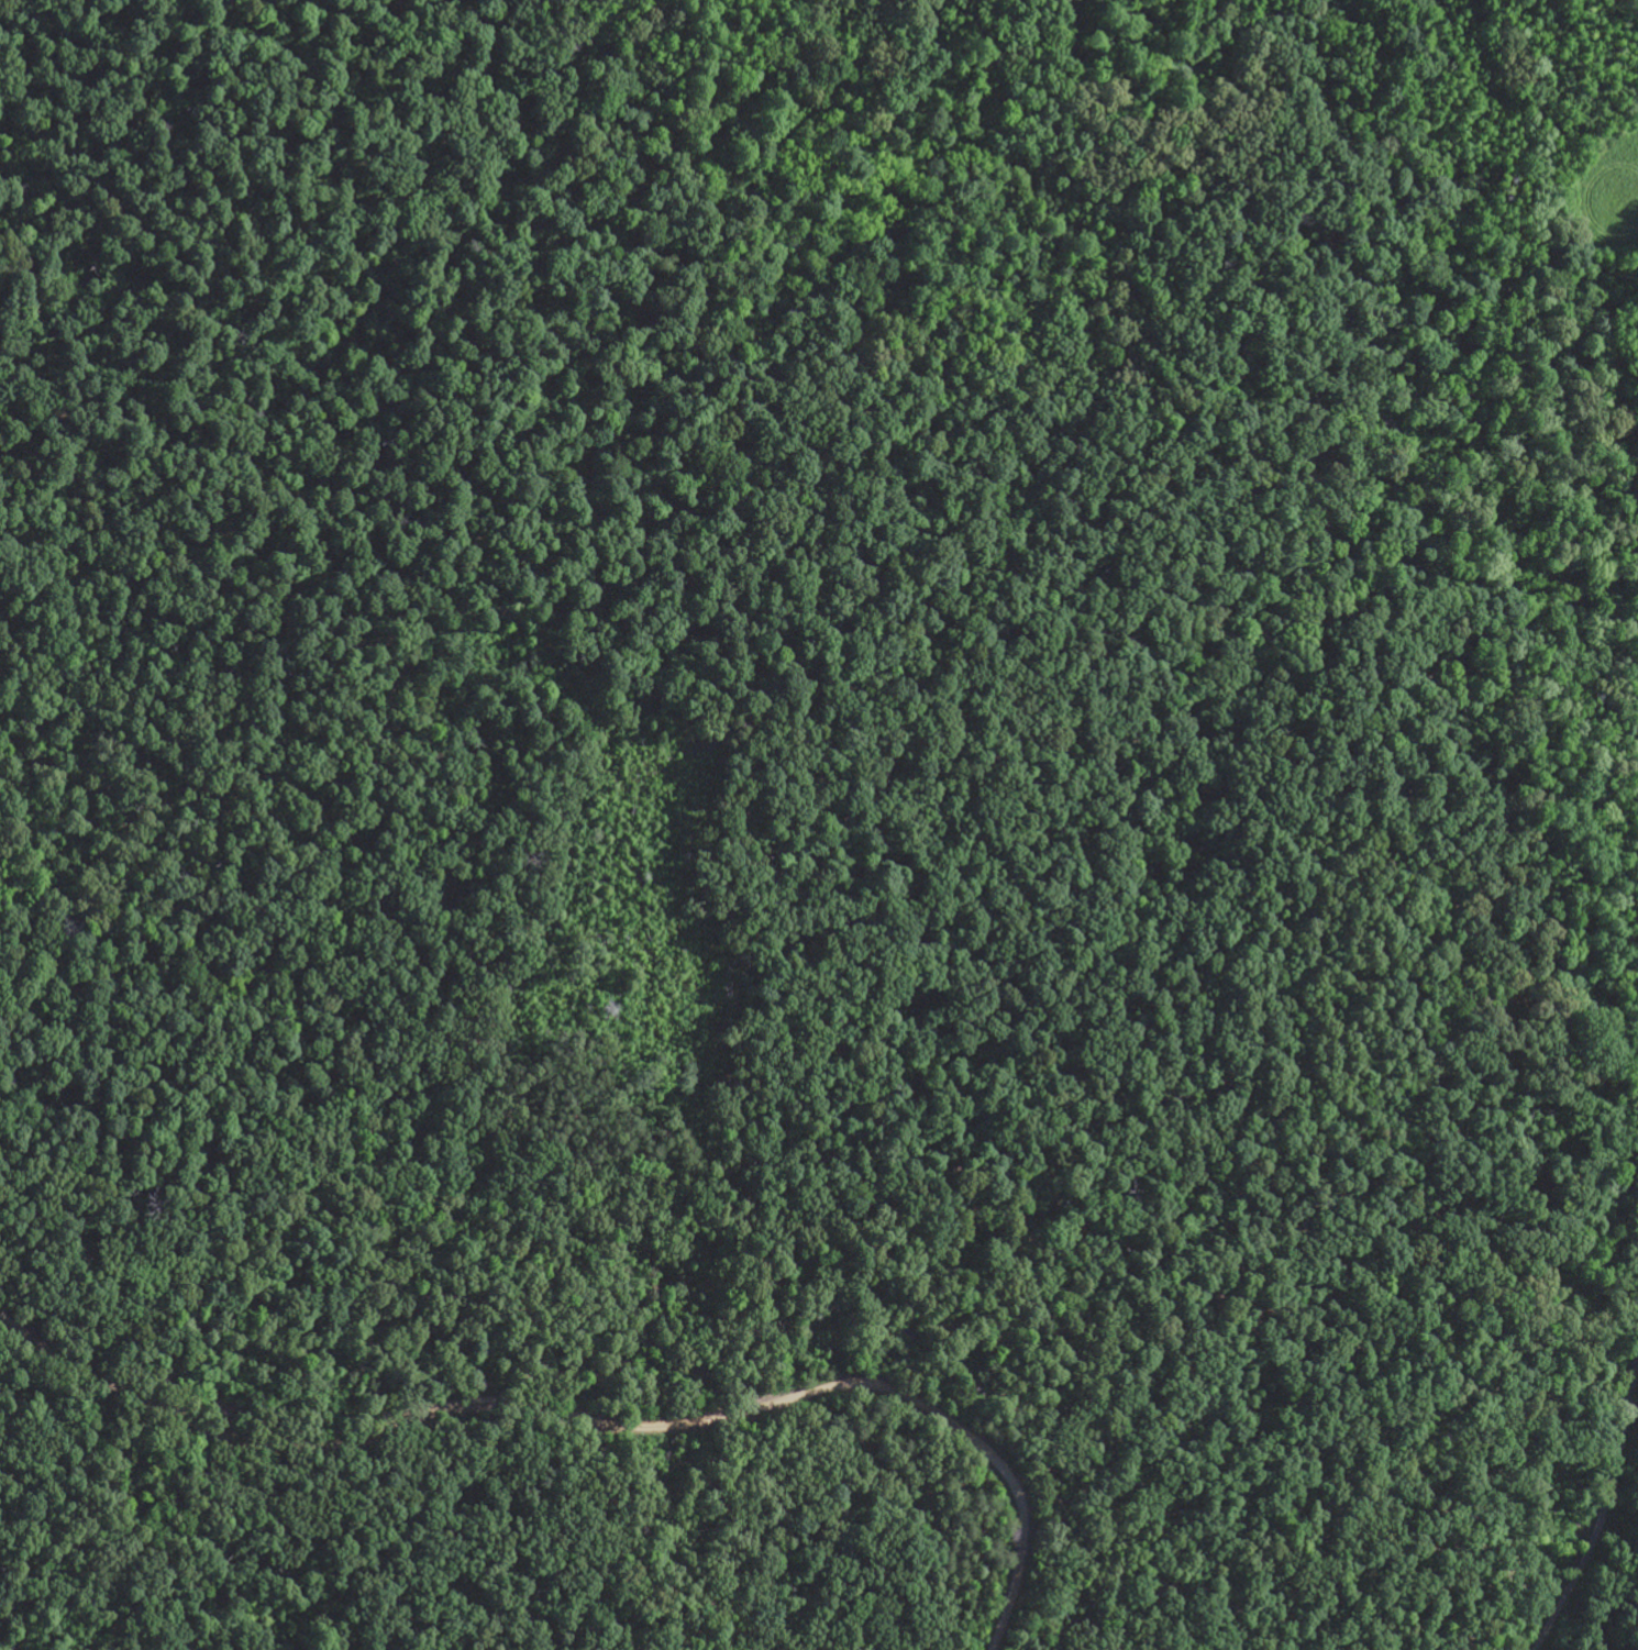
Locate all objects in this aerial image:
road: (589, 1424)
road: (1598, 1507)

